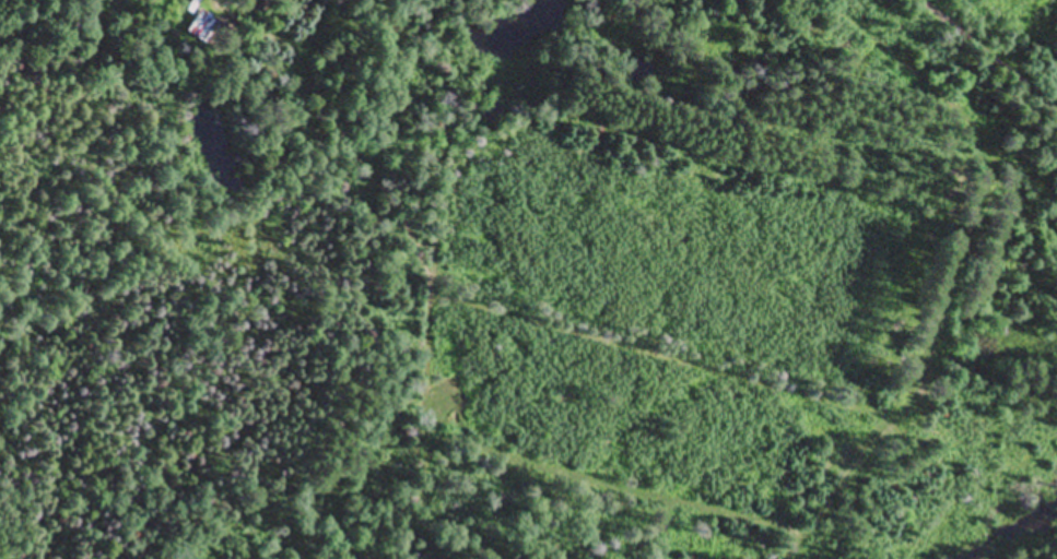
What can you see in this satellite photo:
road: (988, 55)

